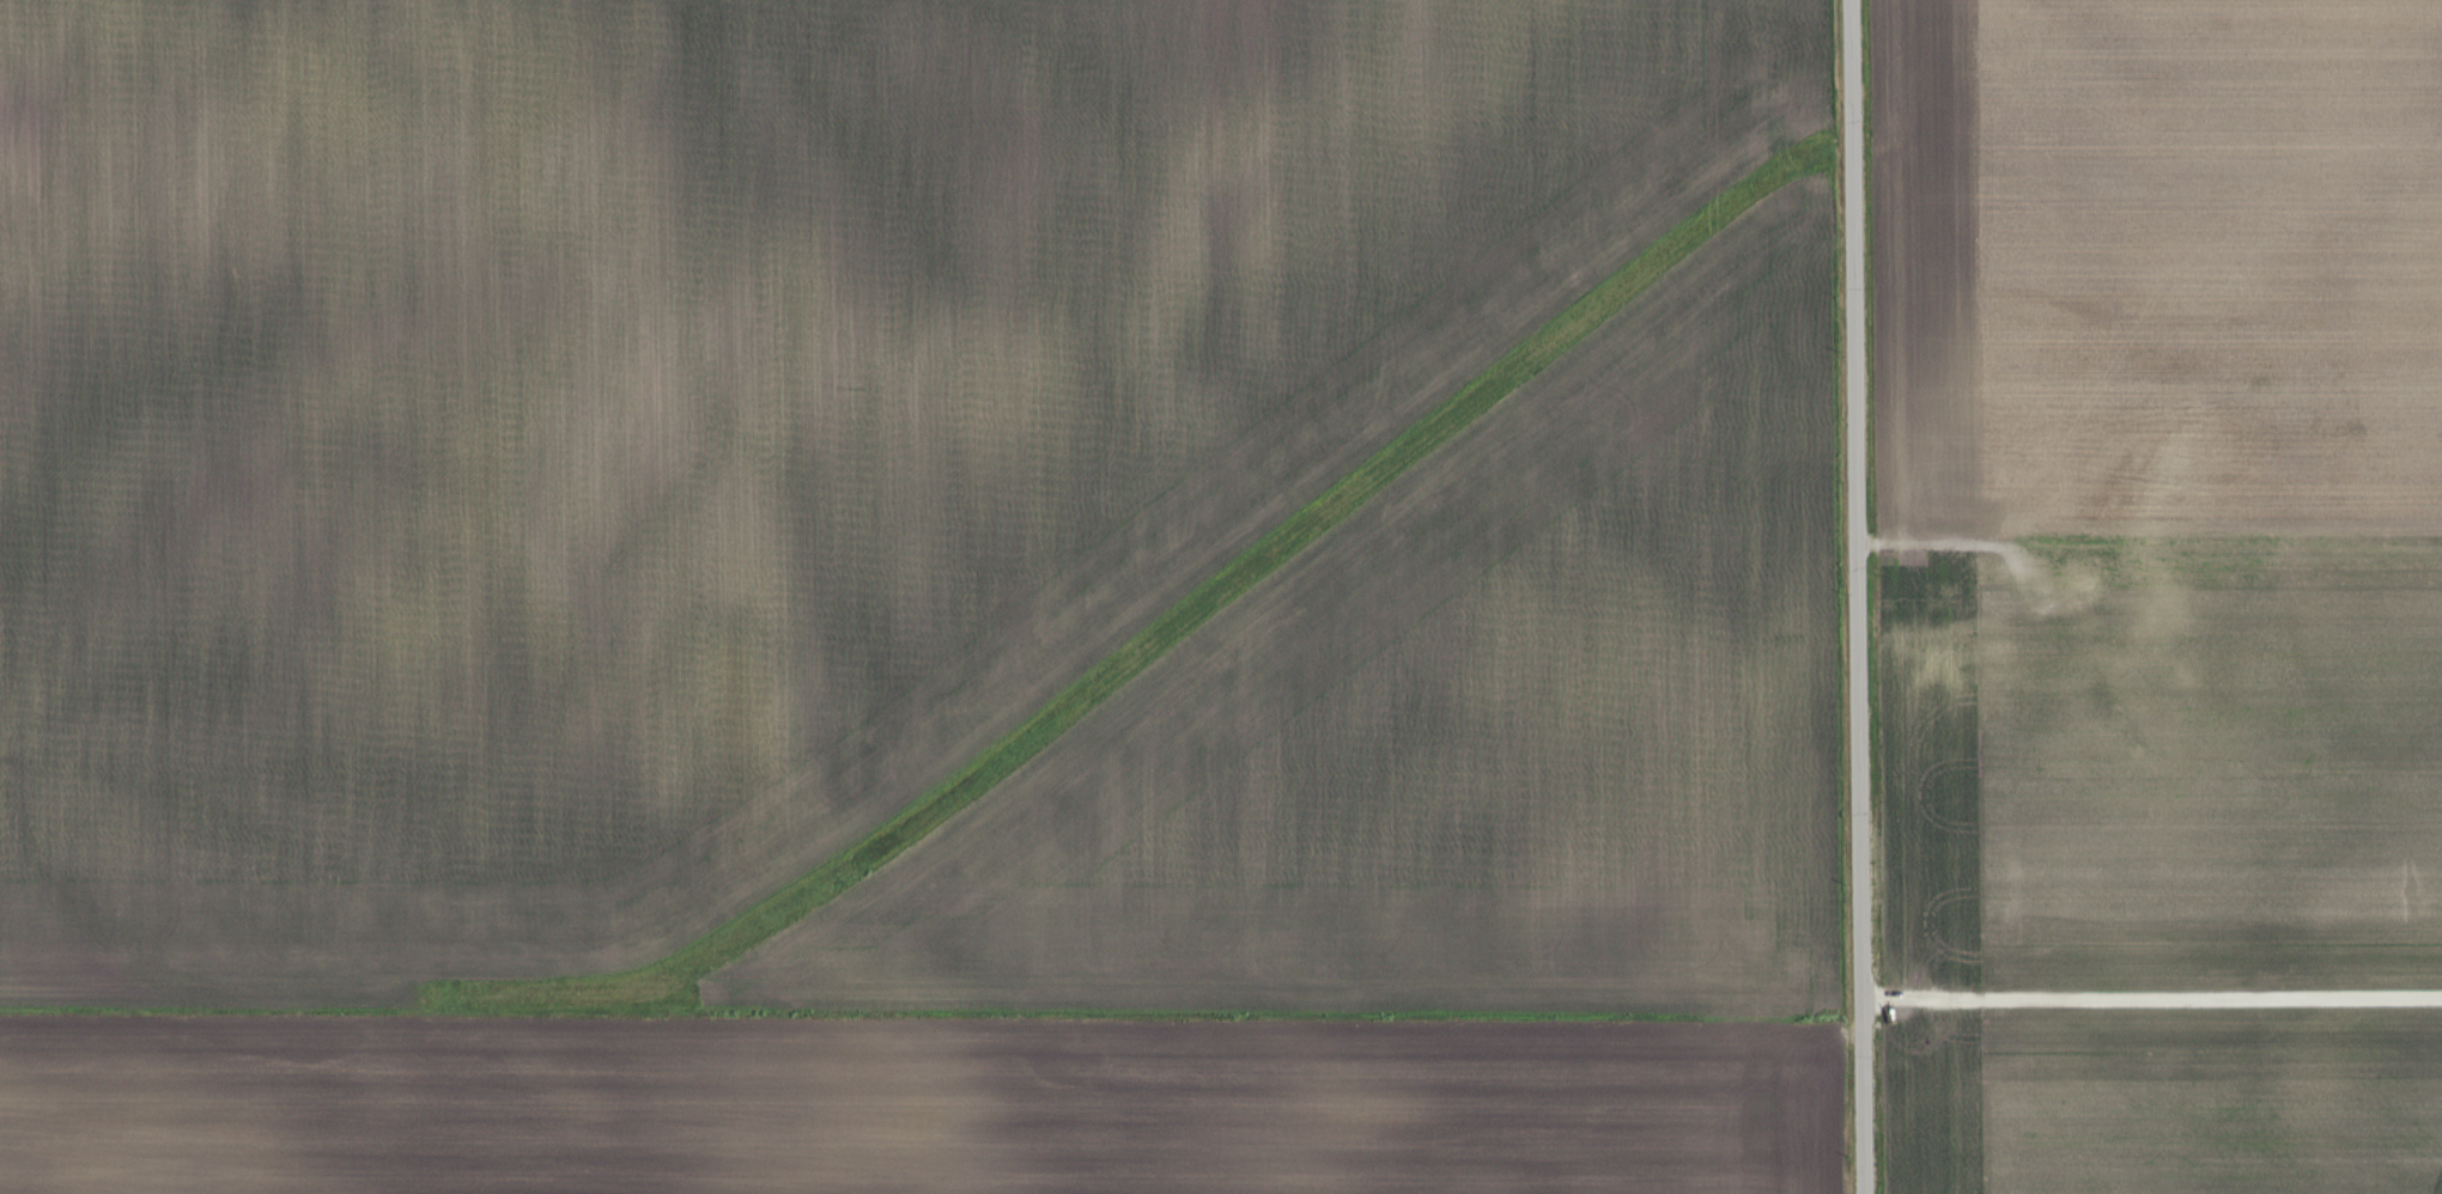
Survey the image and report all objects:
road: (1857, 596)
road: (2151, 997)

